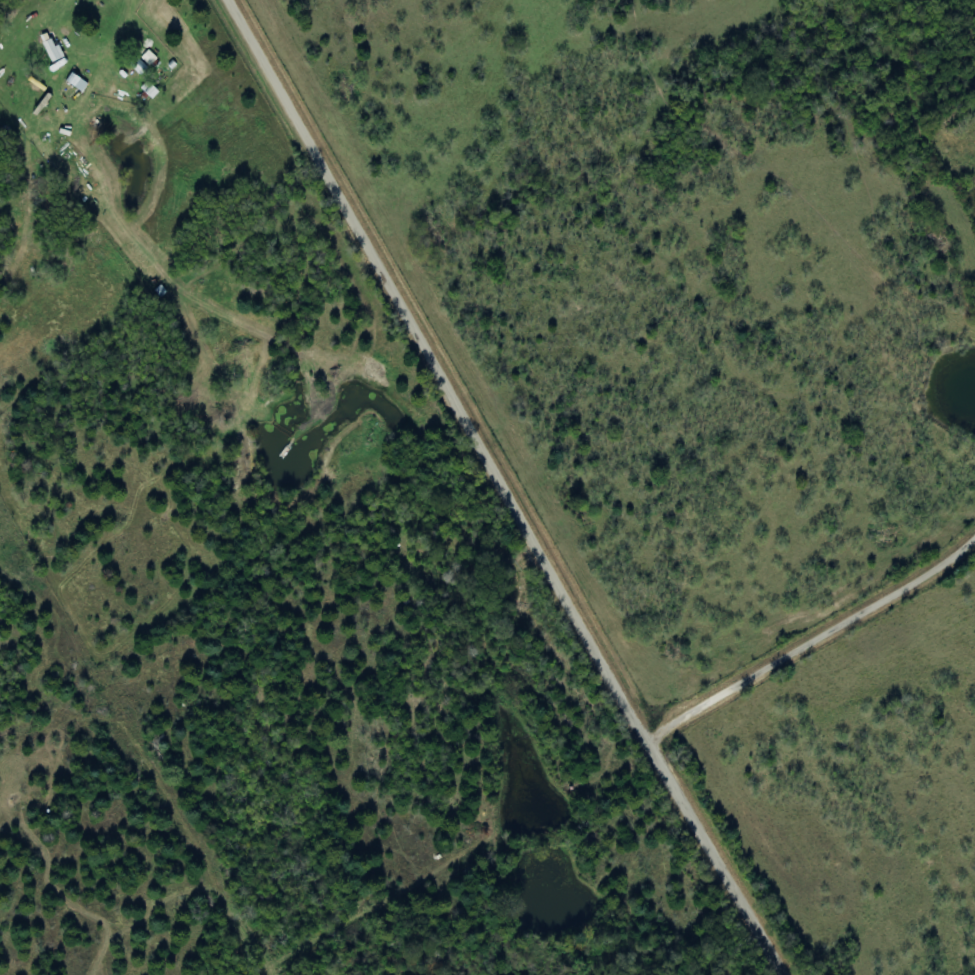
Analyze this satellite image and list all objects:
building: (53, 50)
building: (150, 58)
building: (140, 66)
building: (78, 82)
road: (512, 488)
road: (815, 645)

